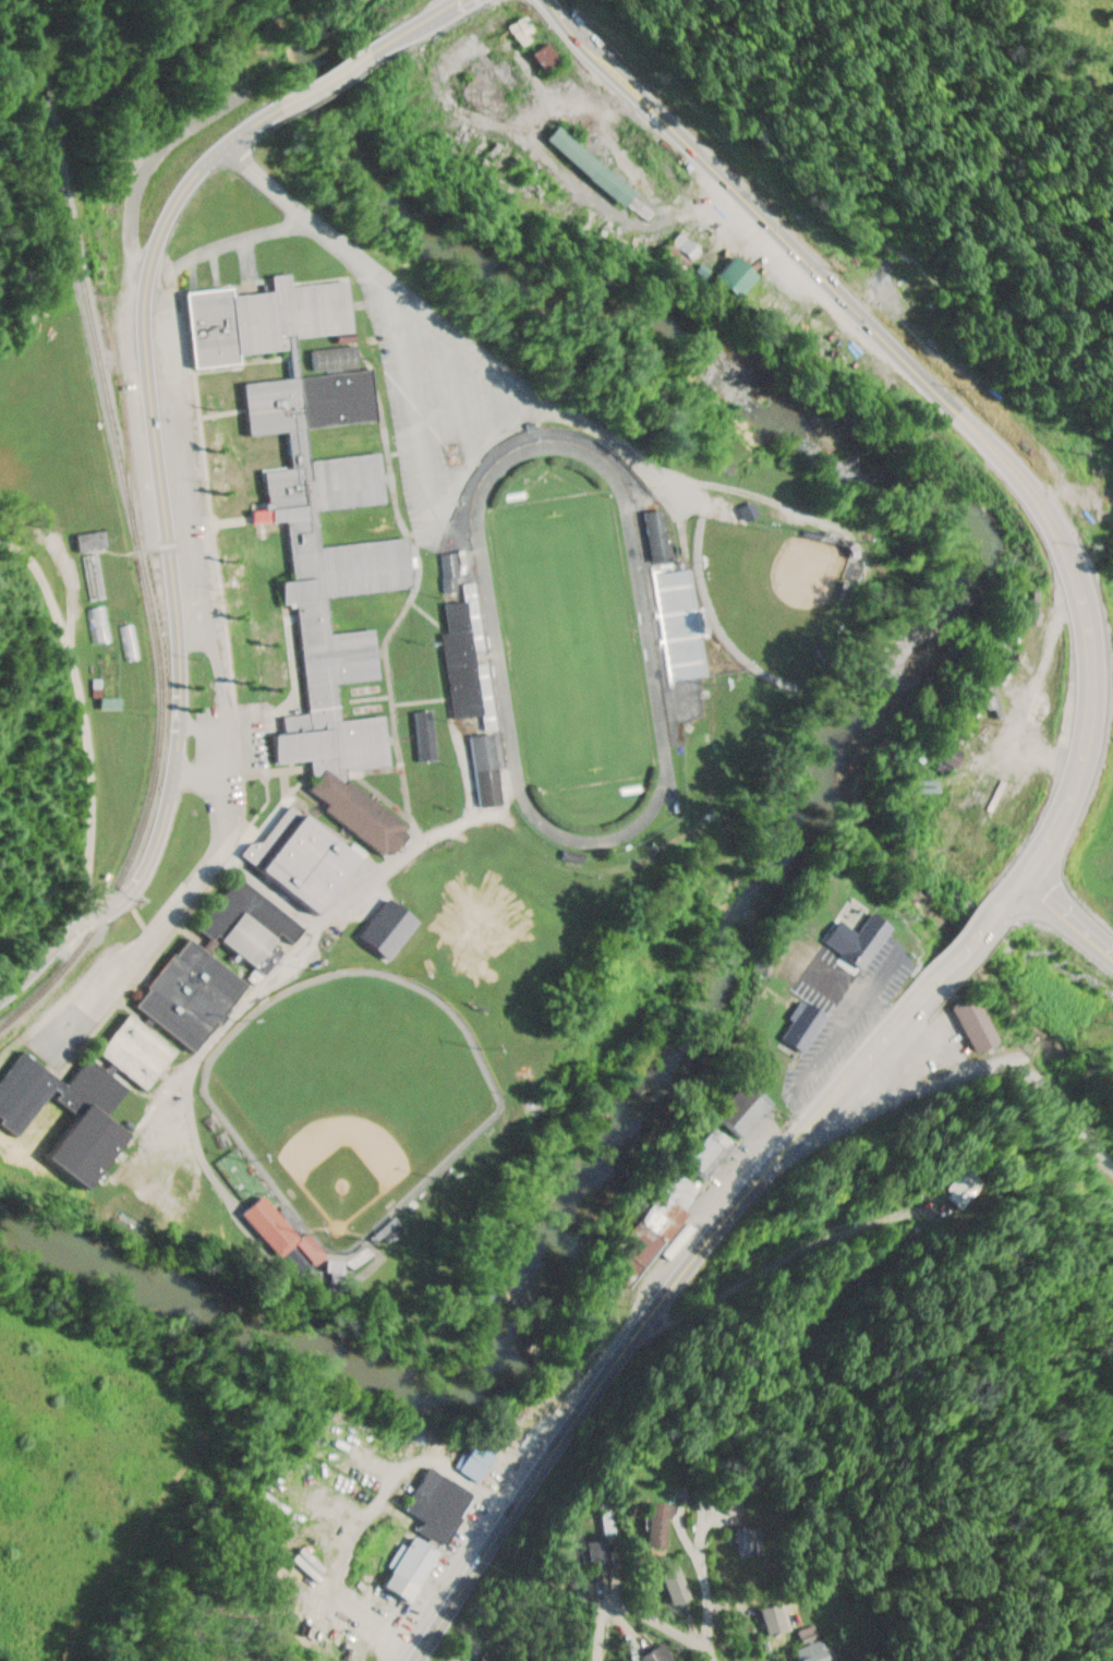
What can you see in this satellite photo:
road: (427, 19)
building: (527, 34)
building: (552, 56)
road: (328, 77)
building: (596, 166)
building: (688, 245)
building: (268, 317)
building: (830, 340)
building: (177, 347)
building: (341, 398)
building: (752, 510)
railway: (136, 533)
building: (661, 534)
building: (94, 539)
building: (94, 574)
road: (171, 575)
building: (676, 601)
building: (343, 640)
building: (464, 659)
road: (83, 732)
building: (488, 768)
river: (820, 789)
road: (1056, 832)
building: (307, 855)
building: (252, 920)
road: (1069, 925)
building: (870, 937)
building: (195, 991)
building: (980, 1023)
building: (808, 1024)
building: (141, 1049)
building: (96, 1076)
building: (748, 1108)
building: (709, 1153)
building: (658, 1226)
building: (287, 1231)
building: (479, 1461)
building: (440, 1502)
building: (739, 1503)
building: (618, 1522)
building: (667, 1522)
building: (752, 1541)
building: (607, 1553)
building: (415, 1567)
building: (680, 1586)
road: (642, 1611)
building: (776, 1618)
building: (815, 1651)
building: (657, 1654)
building: (486, 1659)

